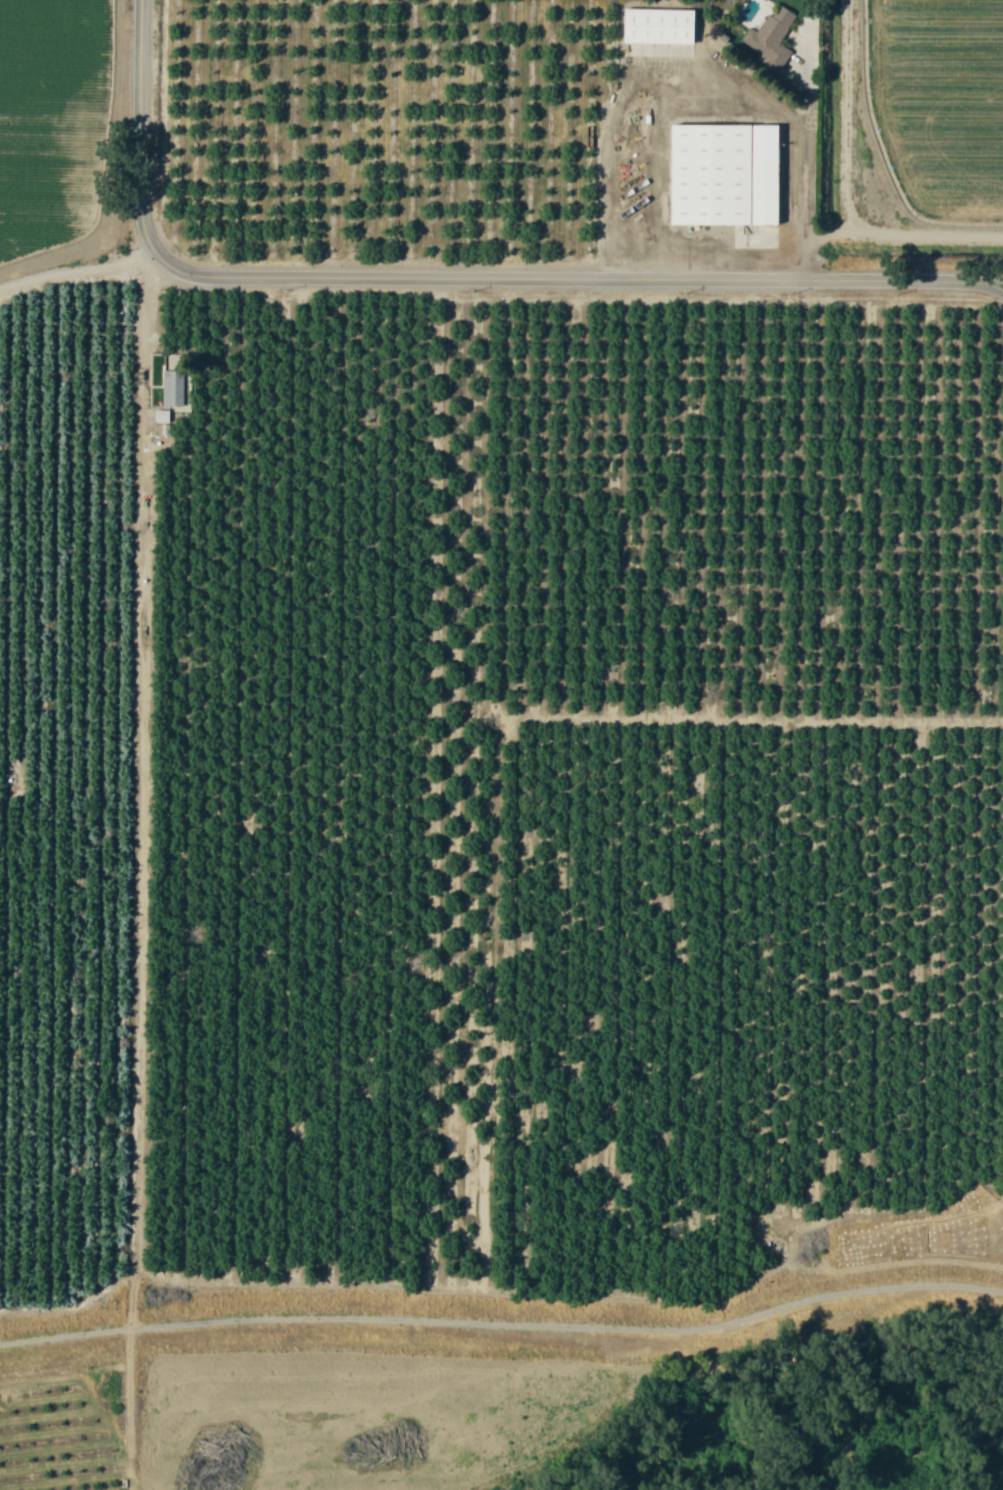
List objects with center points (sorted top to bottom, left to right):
building: (656, 27)
building: (720, 176)
road: (875, 234)
road: (449, 280)
road: (999, 286)
road: (143, 344)
building: (174, 388)
building: (153, 428)
road: (503, 1326)

